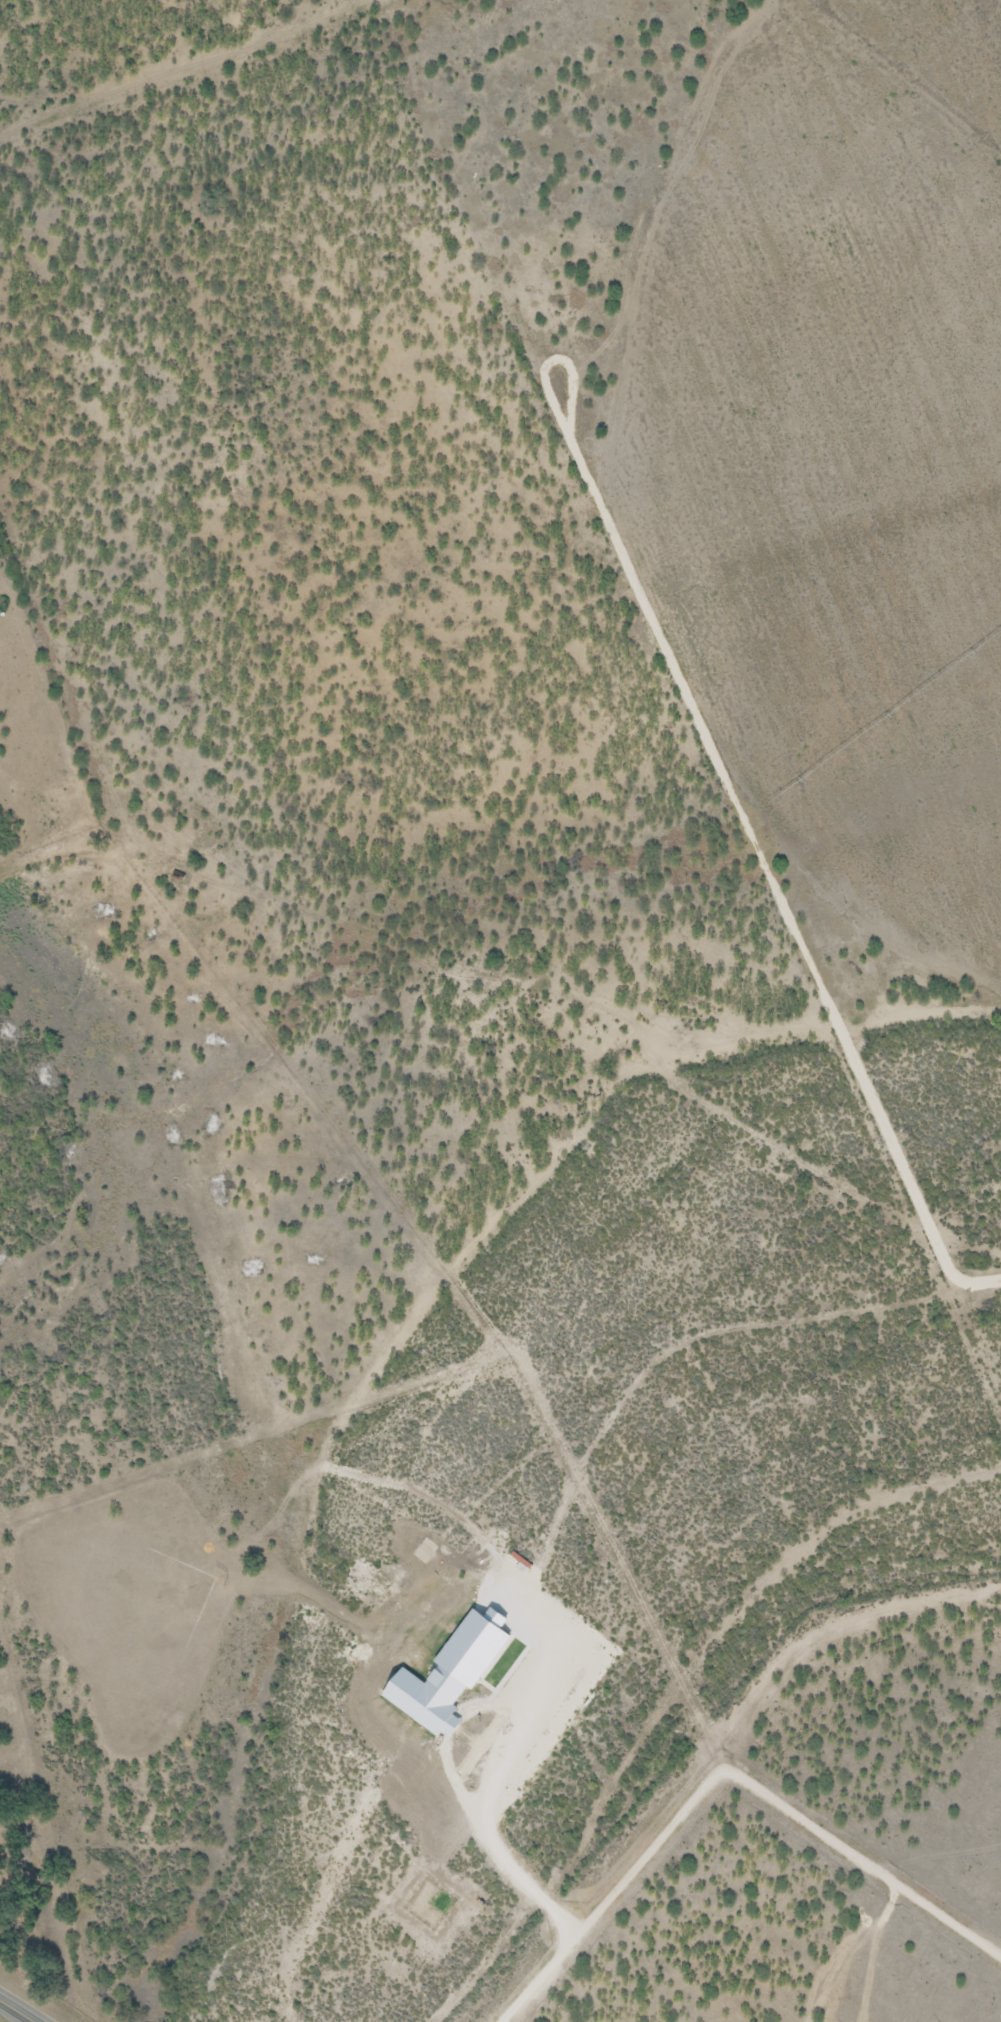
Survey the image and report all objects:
road: (895, 1210)
road: (16, 2011)

